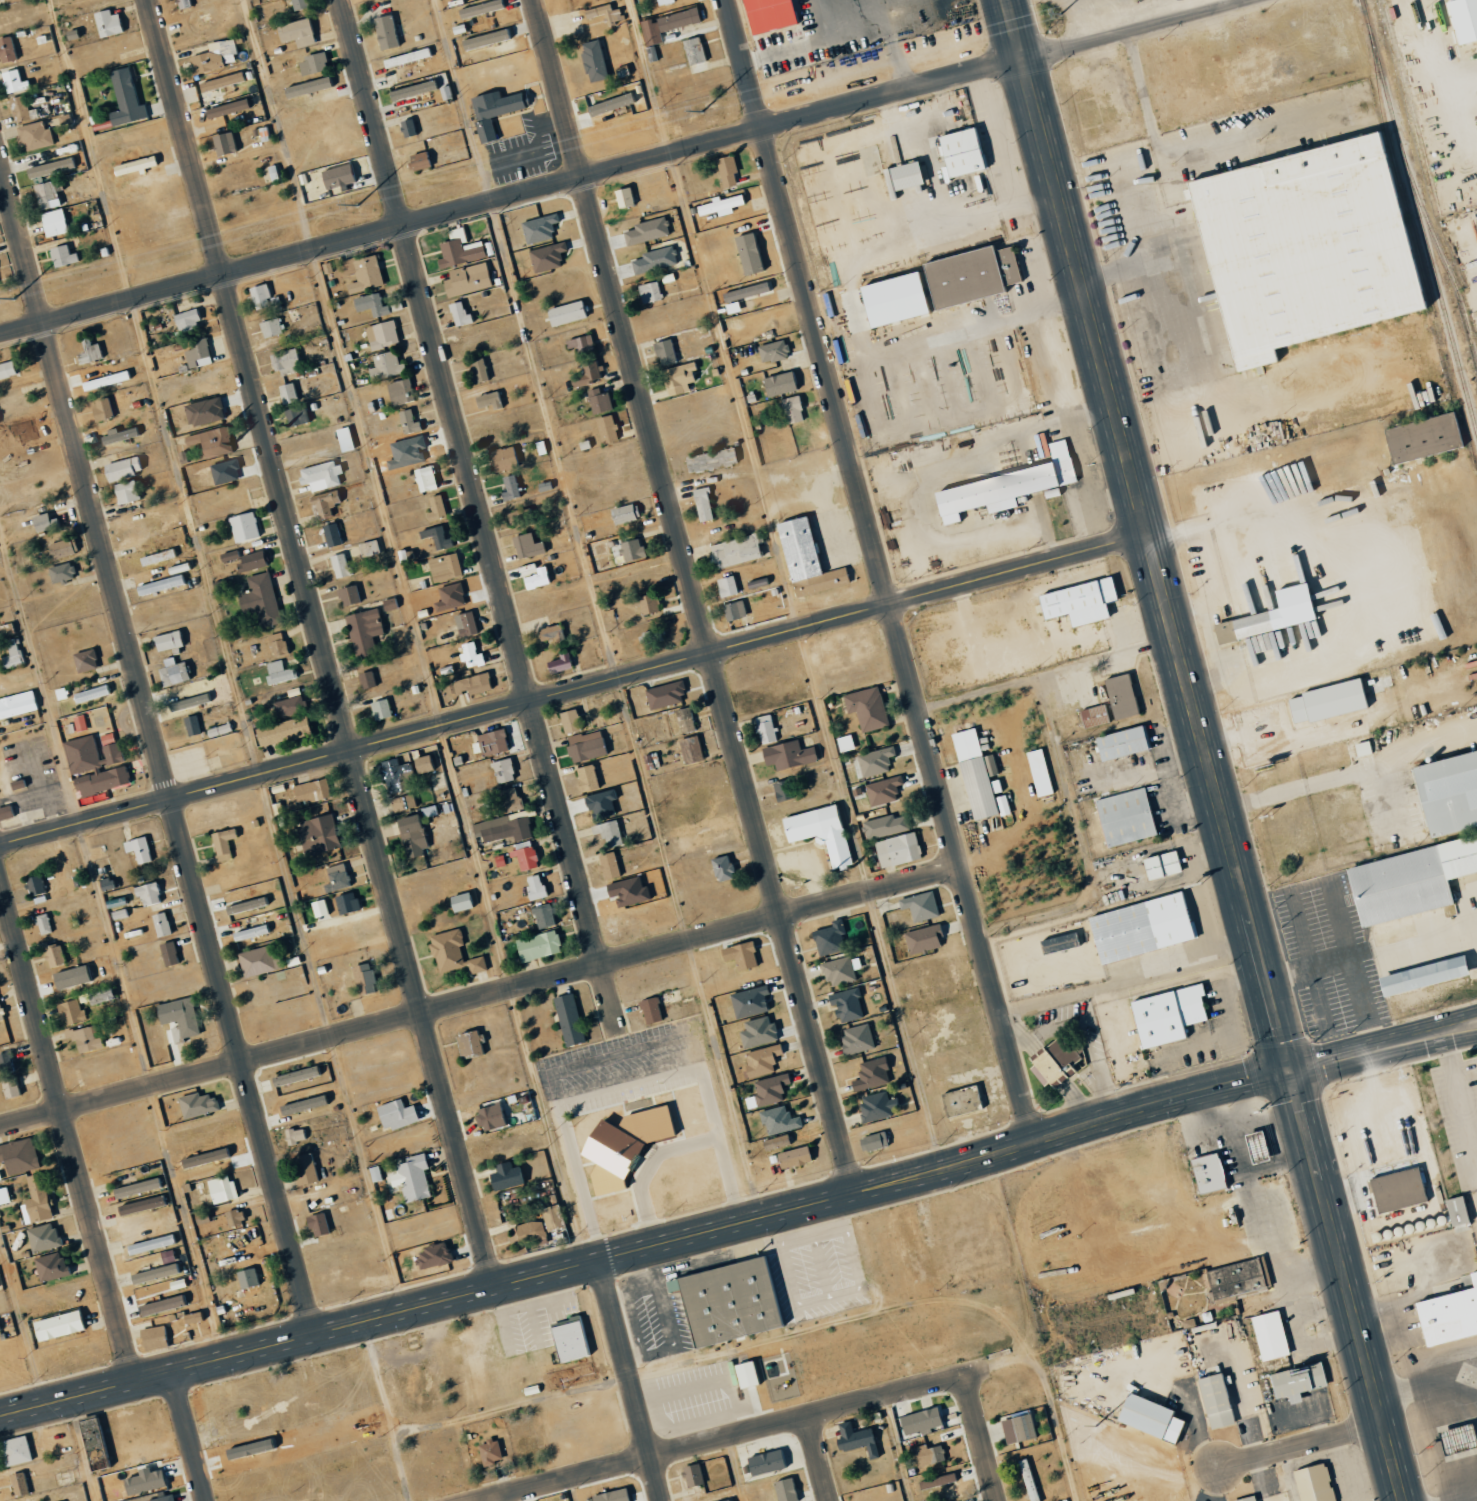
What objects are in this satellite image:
building: (662, 2)
building: (183, 3)
building: (299, 4)
building: (479, 8)
building: (603, 13)
power tower: (1061, 14)
building: (764, 15)
building: (1461, 19)
building: (105, 23)
building: (665, 24)
building: (295, 32)
building: (384, 32)
road: (1333, 34)
road: (847, 35)
building: (485, 39)
road: (1184, 44)
building: (6, 49)
building: (693, 50)
building: (214, 56)
building: (405, 57)
building: (592, 60)
building: (312, 63)
road: (648, 77)
building: (12, 81)
building: (307, 86)
building: (411, 89)
road: (1273, 92)
building: (124, 98)
building: (251, 101)
building: (610, 104)
railway: (1411, 107)
building: (19, 108)
building: (225, 108)
building: (492, 110)
power tower: (702, 111)
road: (1166, 112)
building: (406, 127)
building: (34, 136)
building: (222, 143)
road: (90, 149)
building: (958, 152)
building: (416, 160)
building: (133, 165)
building: (49, 167)
road: (621, 168)
road: (1177, 170)
building: (726, 171)
railway: (1397, 173)
road: (1132, 174)
building: (903, 175)
building: (336, 177)
building: (45, 195)
building: (622, 197)
power tower: (357, 205)
building: (719, 206)
railway: (1419, 218)
building: (52, 222)
building: (539, 228)
building: (646, 230)
building: (1300, 247)
building: (458, 249)
building: (747, 253)
building: (61, 256)
building: (546, 257)
railway: (1444, 258)
building: (652, 260)
building: (346, 266)
building: (364, 274)
building: (968, 275)
building: (466, 280)
building: (648, 292)
building: (744, 292)
building: (258, 297)
power tower: (13, 299)
building: (890, 299)
building: (370, 304)
building: (458, 313)
building: (564, 313)
building: (186, 320)
building: (269, 327)
building: (381, 335)
road: (523, 340)
building: (579, 345)
road: (1177, 348)
building: (772, 351)
building: (663, 352)
building: (89, 353)
building: (196, 353)
building: (283, 361)
road: (341, 363)
building: (384, 366)
building: (6, 369)
building: (480, 370)
road: (1292, 373)
building: (585, 374)
building: (677, 378)
building: (778, 384)
building: (399, 392)
building: (286, 393)
building: (488, 401)
building: (597, 401)
building: (99, 409)
building: (791, 409)
building: (203, 411)
building: (293, 413)
building: (416, 415)
road: (1299, 416)
building: (407, 422)
building: (16, 429)
building: (605, 429)
building: (117, 435)
building: (1420, 438)
building: (343, 439)
building: (209, 442)
building: (501, 459)
building: (709, 460)
building: (121, 468)
building: (223, 471)
building: (319, 475)
building: (423, 479)
building: (543, 486)
building: (509, 487)
building: (1004, 487)
building: (1290, 490)
building: (124, 492)
building: (701, 504)
building: (323, 505)
building: (434, 508)
building: (623, 513)
road: (479, 514)
building: (520, 517)
building: (42, 523)
building: (243, 527)
building: (330, 535)
road: (1146, 535)
building: (435, 536)
road: (193, 538)
building: (525, 546)
building: (368, 548)
building: (57, 550)
building: (626, 550)
building: (736, 550)
building: (228, 555)
building: (156, 557)
building: (804, 560)
building: (250, 561)
building: (339, 565)
building: (443, 567)
road: (880, 570)
building: (60, 572)
building: (535, 579)
building: (726, 586)
building: (361, 591)
building: (347, 595)
road: (692, 596)
building: (259, 599)
building: (647, 601)
building: (1077, 602)
building: (734, 610)
building: (1276, 613)
building: (464, 624)
building: (362, 630)
building: (551, 633)
building: (651, 636)
building: (164, 641)
road: (320, 642)
building: (276, 644)
building: (11, 655)
building: (469, 655)
building: (84, 660)
building: (559, 662)
building: (171, 672)
building: (278, 672)
road: (1046, 674)
building: (366, 679)
building: (470, 684)
building: (1378, 684)
building: (666, 688)
road: (573, 691)
building: (89, 694)
building: (1119, 697)
building: (16, 704)
building: (867, 706)
building: (289, 707)
building: (379, 709)
building: (1093, 716)
building: (685, 718)
building: (570, 719)
building: (79, 723)
building: (190, 725)
building: (766, 727)
building: (281, 731)
building: (492, 739)
building: (586, 743)
building: (843, 743)
building: (1119, 744)
road: (157, 746)
building: (691, 747)
building: (1361, 748)
building: (789, 749)
building: (878, 759)
building: (423, 761)
building: (94, 764)
building: (508, 768)
building: (973, 773)
building: (1037, 773)
building: (590, 777)
building: (439, 778)
building: (398, 781)
road: (1321, 781)
building: (886, 788)
building: (312, 789)
building: (783, 790)
building: (1446, 793)
building: (512, 796)
building: (600, 804)
building: (1123, 817)
building: (884, 826)
building: (501, 827)
building: (821, 830)
building: (610, 831)
building: (412, 833)
building: (320, 835)
building: (226, 842)
road: (1080, 842)
building: (898, 847)
building: (139, 848)
building: (527, 856)
building: (607, 865)
building: (1160, 865)
building: (721, 868)
building: (335, 874)
building: (1407, 880)
building: (534, 885)
building: (36, 887)
building: (626, 891)
building: (134, 895)
building: (247, 900)
building: (348, 900)
building: (459, 902)
building: (924, 903)
building: (317, 908)
building: (544, 914)
building: (51, 919)
building: (43, 921)
building: (162, 922)
building: (251, 927)
building: (360, 928)
building: (1138, 928)
building: (828, 935)
building: (924, 936)
building: (1057, 943)
building: (536, 946)
building: (447, 948)
building: (170, 951)
building: (55, 952)
building: (738, 956)
building: (257, 962)
building: (475, 965)
building: (838, 967)
building: (363, 974)
building: (1420, 976)
building: (70, 977)
building: (97, 994)
road: (480, 996)
building: (748, 1002)
building: (848, 1002)
building: (652, 1007)
building: (71, 1009)
building: (1, 1011)
building: (1165, 1015)
building: (179, 1017)
building: (569, 1017)
road: (1444, 1018)
building: (756, 1032)
building: (856, 1036)
building: (83, 1039)
building: (470, 1040)
road: (1446, 1041)
road: (1352, 1054)
building: (763, 1055)
building: (1057, 1060)
building: (7, 1062)
building: (295, 1071)
traffic signals: (1288, 1071)
building: (868, 1072)
building: (771, 1085)
building: (9, 1087)
road: (1460, 1098)
building: (199, 1100)
building: (962, 1101)
building: (312, 1103)
building: (874, 1104)
building: (392, 1112)
building: (490, 1114)
building: (779, 1118)
road: (66, 1128)
building: (293, 1136)
building: (776, 1142)
building: (871, 1142)
building: (623, 1144)
building: (1254, 1146)
building: (18, 1155)
building: (794, 1155)
building: (203, 1158)
building: (319, 1164)
building: (304, 1167)
building: (505, 1172)
building: (1206, 1173)
building: (410, 1178)
building: (137, 1183)
building: (222, 1187)
building: (1395, 1190)
building: (3, 1195)
building: (142, 1199)
building: (39, 1206)
building: (1454, 1210)
building: (535, 1219)
building: (330, 1220)
building: (220, 1222)
building: (316, 1224)
building: (530, 1233)
building: (44, 1234)
building: (152, 1240)
road: (645, 1245)
building: (432, 1256)
building: (52, 1262)
building: (155, 1268)
building: (246, 1278)
building: (1233, 1279)
road: (1344, 1286)
building: (727, 1299)
building: (161, 1305)
building: (1448, 1313)
building: (64, 1317)
building: (154, 1335)
building: (1268, 1335)
building: (571, 1336)
road: (633, 1378)
building: (747, 1380)
building: (1295, 1382)
road: (1425, 1387)
building: (1213, 1401)
building: (1147, 1417)
building: (926, 1418)
building: (1017, 1429)
road: (756, 1430)
road: (190, 1434)
building: (856, 1437)
building: (877, 1437)
road: (984, 1438)
road: (1311, 1443)
road: (894, 1449)
building: (13, 1451)
building: (488, 1452)
building: (927, 1456)
road: (819, 1459)
building: (766, 1460)
building: (693, 1472)
building: (1026, 1480)
building: (144, 1481)
building: (936, 1481)
building: (17, 1483)
building: (1312, 1483)
building: (786, 1488)
building: (612, 1494)
building: (163, 1498)
building: (1244, 1499)
road: (495, 1500)
building: (729, 1500)
road: (1475, 1500)

